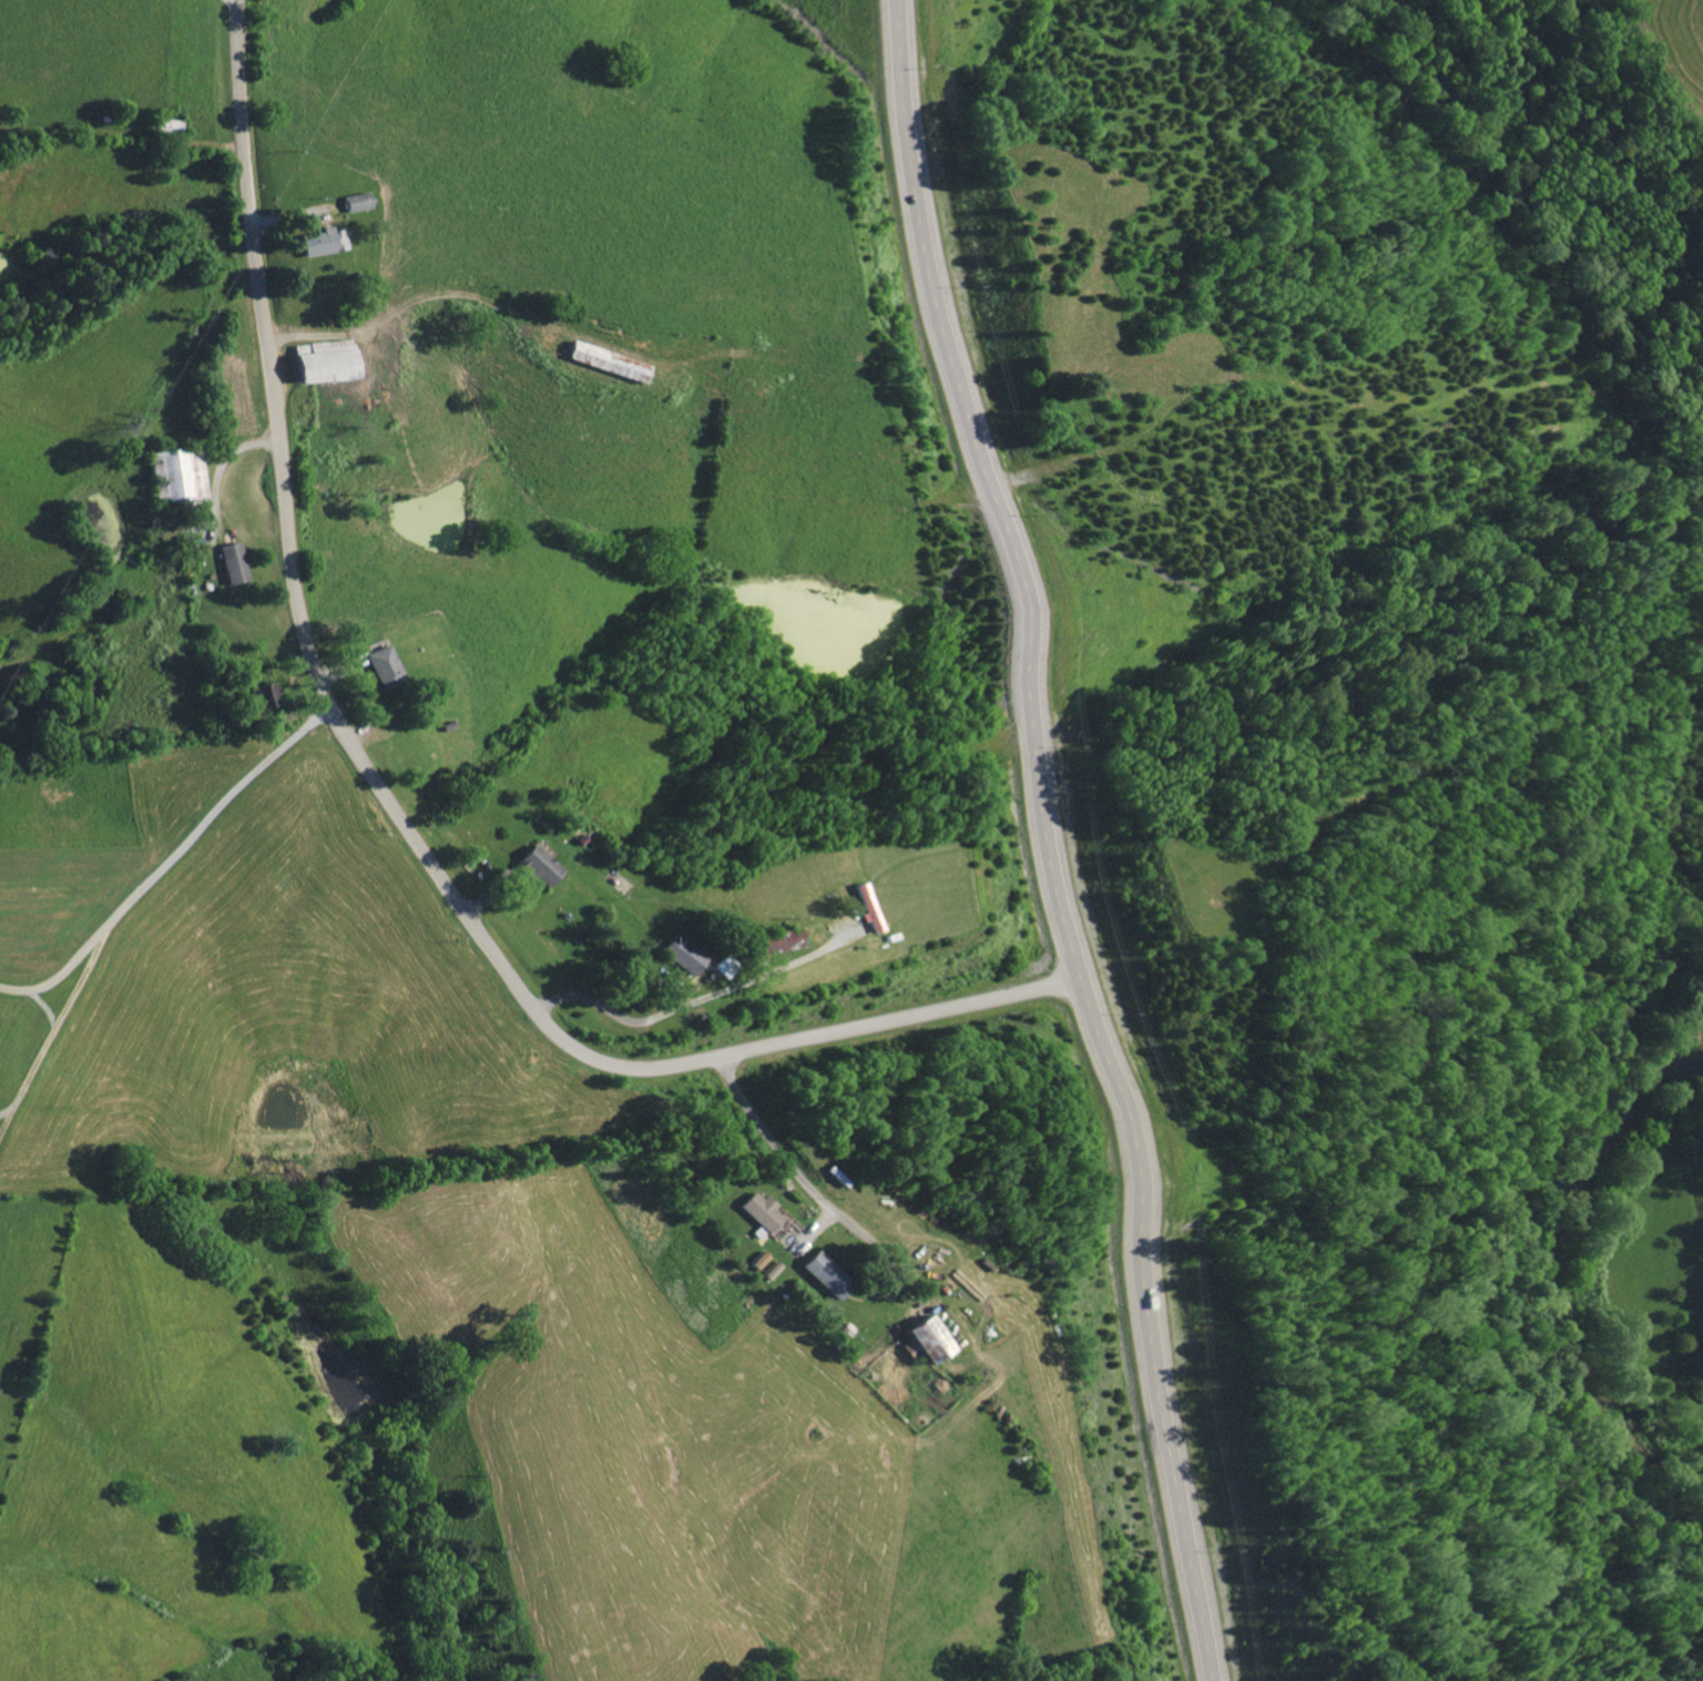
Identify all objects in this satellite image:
building: (353, 202)
building: (318, 242)
building: (316, 359)
building: (600, 359)
building: (228, 561)
building: (380, 665)
road: (388, 802)
road: (1057, 840)
road: (167, 859)
building: (539, 864)
building: (864, 909)
building: (680, 954)
building: (758, 1210)
building: (756, 1259)
building: (767, 1270)
building: (820, 1273)
building: (921, 1338)

